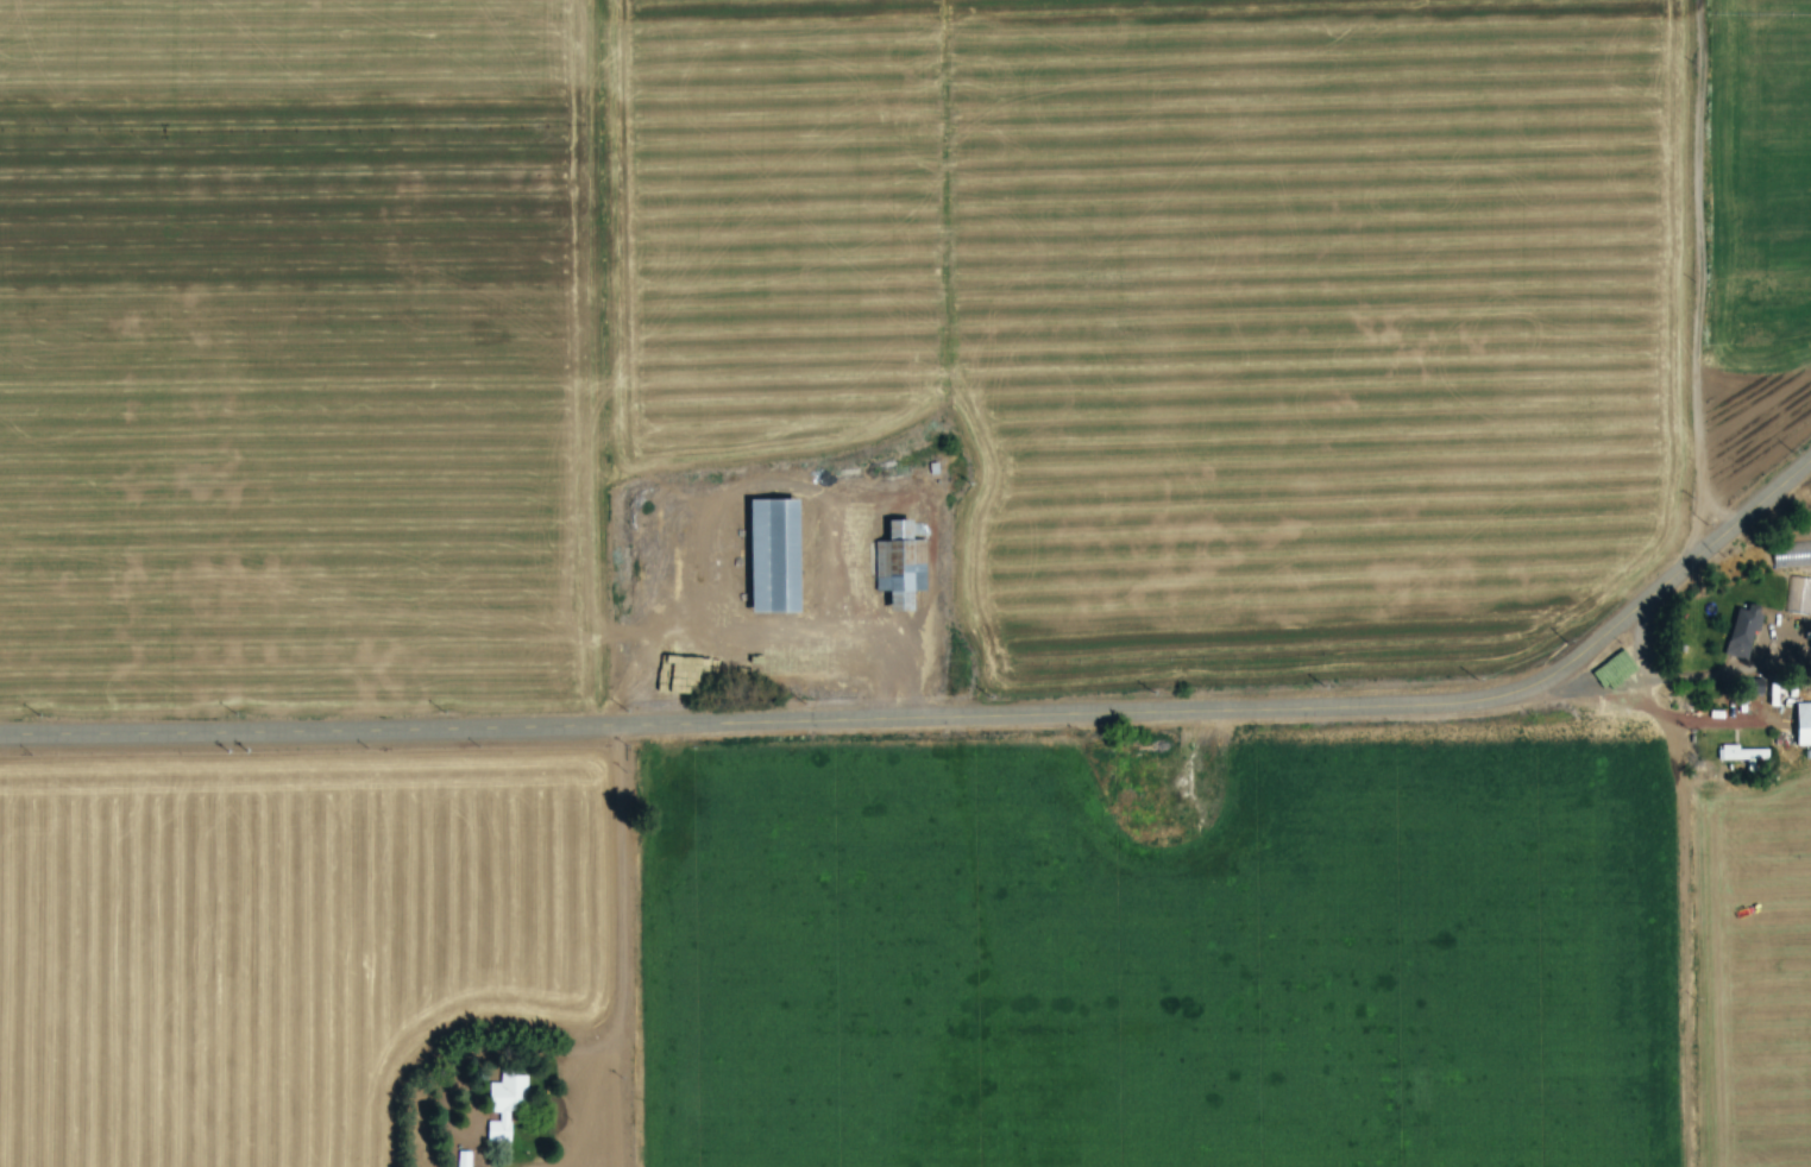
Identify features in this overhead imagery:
road: (1702, 277)
building: (776, 557)
building: (901, 562)
building: (1799, 597)
building: (1743, 633)
building: (1804, 725)
road: (947, 726)
road: (633, 952)
building: (508, 1097)

